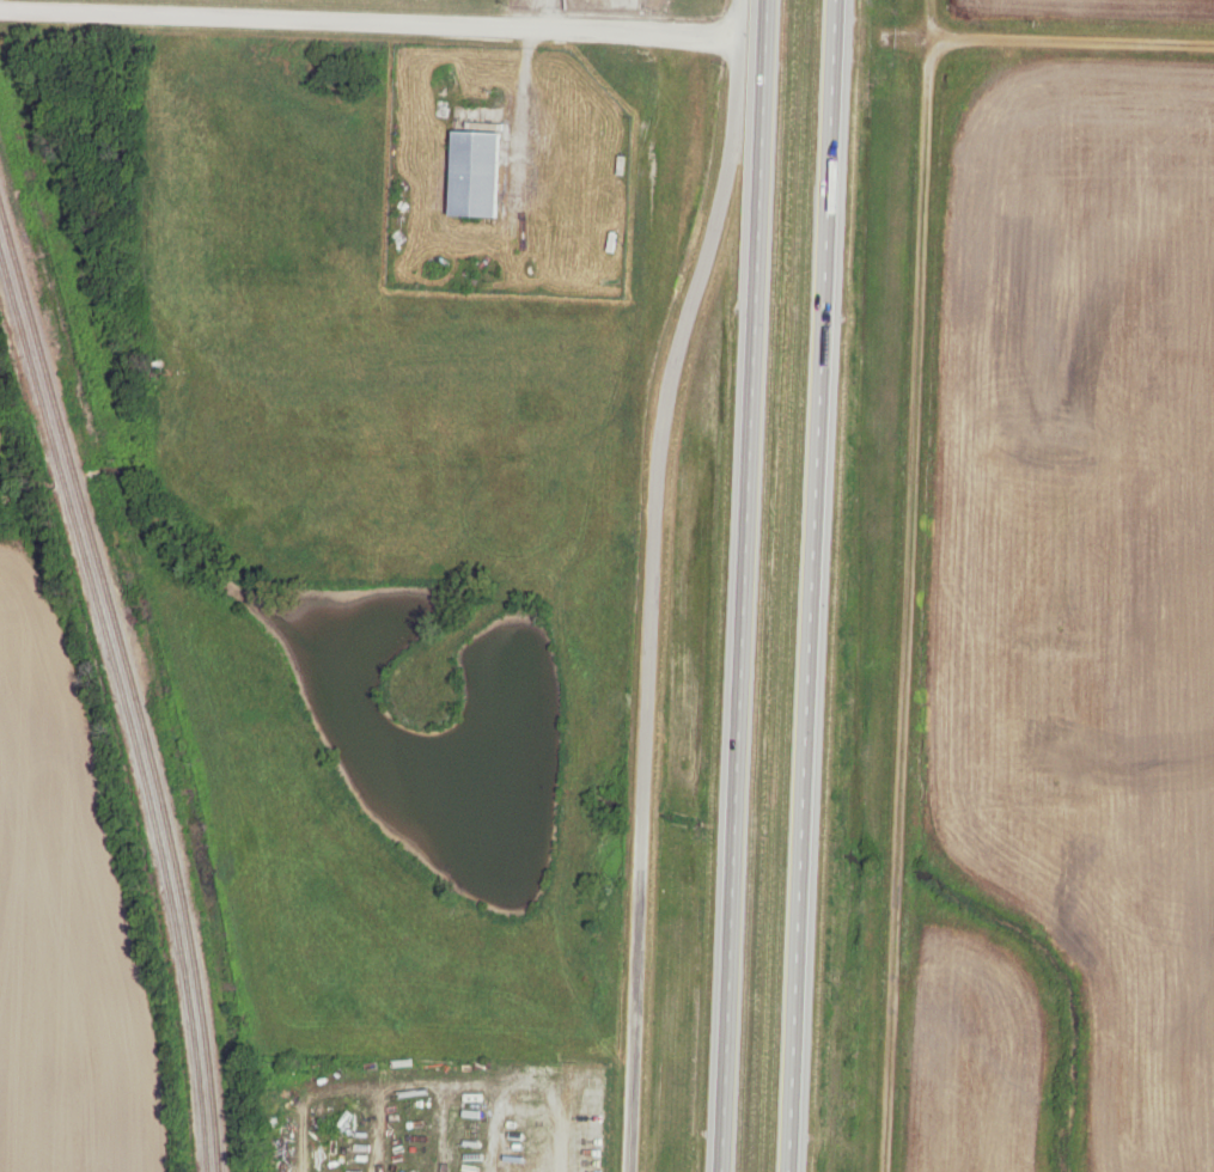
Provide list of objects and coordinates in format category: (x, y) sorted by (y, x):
road: (676, 17)
road: (337, 19)
road: (1070, 43)
building: (477, 175)
road: (813, 585)
road: (746, 586)
road: (653, 602)
railway: (128, 686)
railway: (122, 710)

